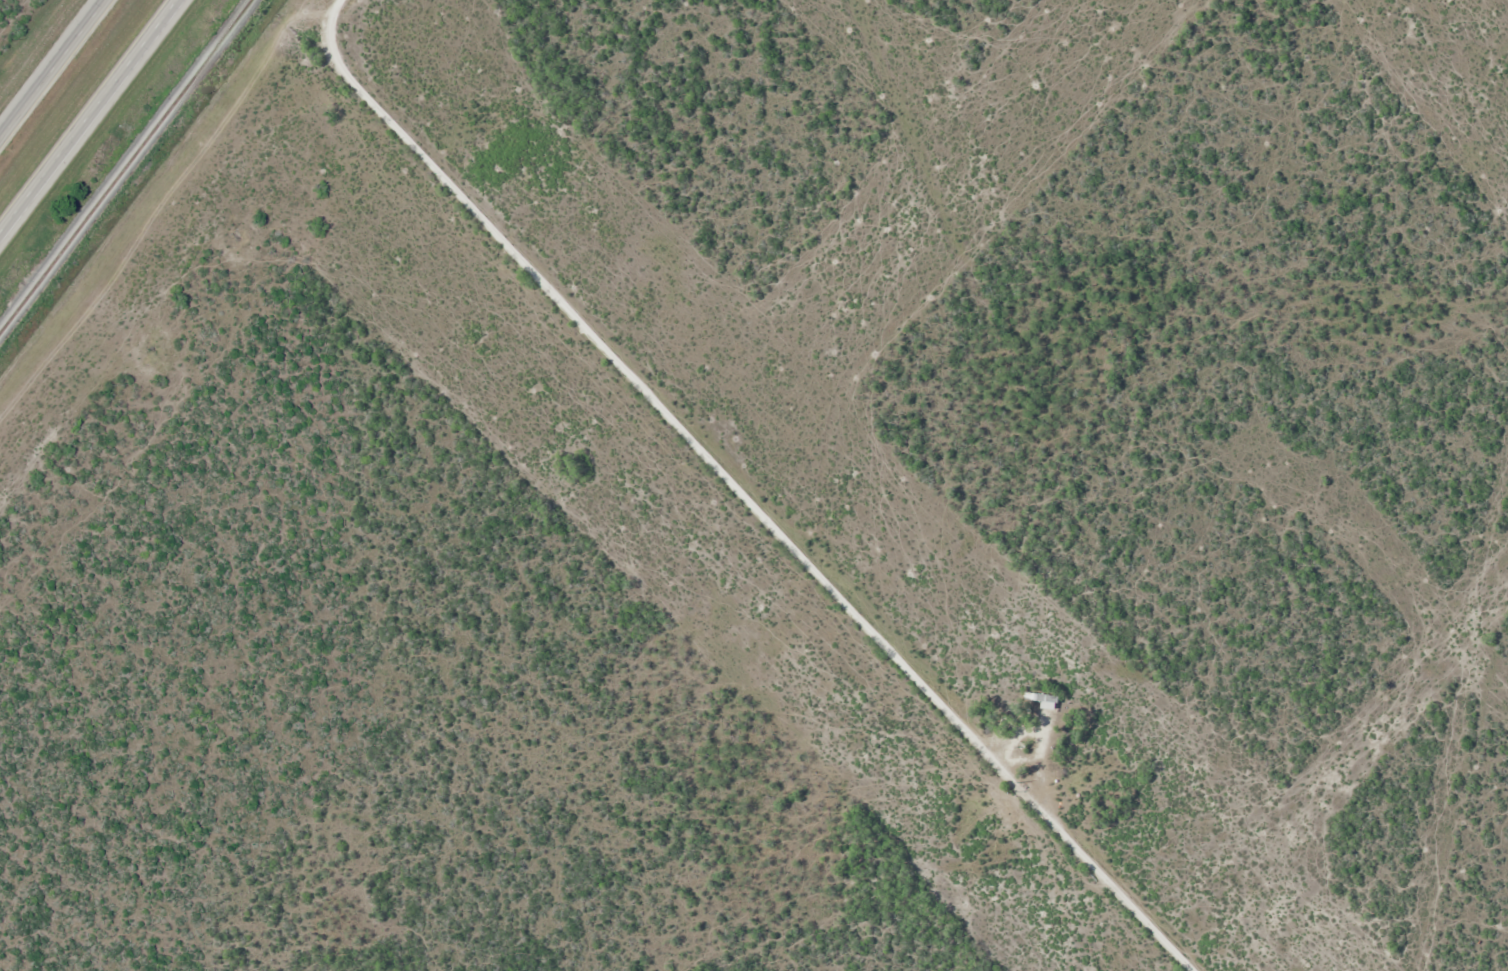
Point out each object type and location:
road: (53, 69)
road: (91, 117)
railway: (127, 167)
road: (729, 492)
building: (1043, 700)

